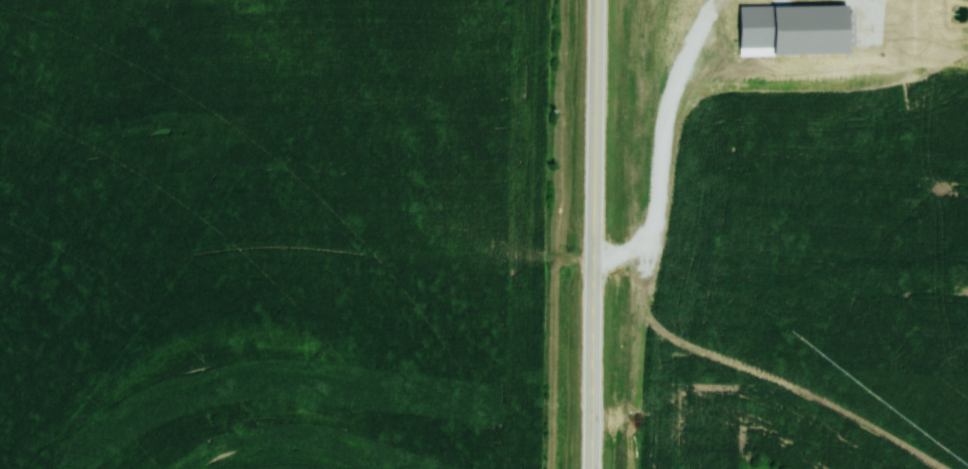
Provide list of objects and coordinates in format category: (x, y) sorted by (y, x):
road: (593, 234)

